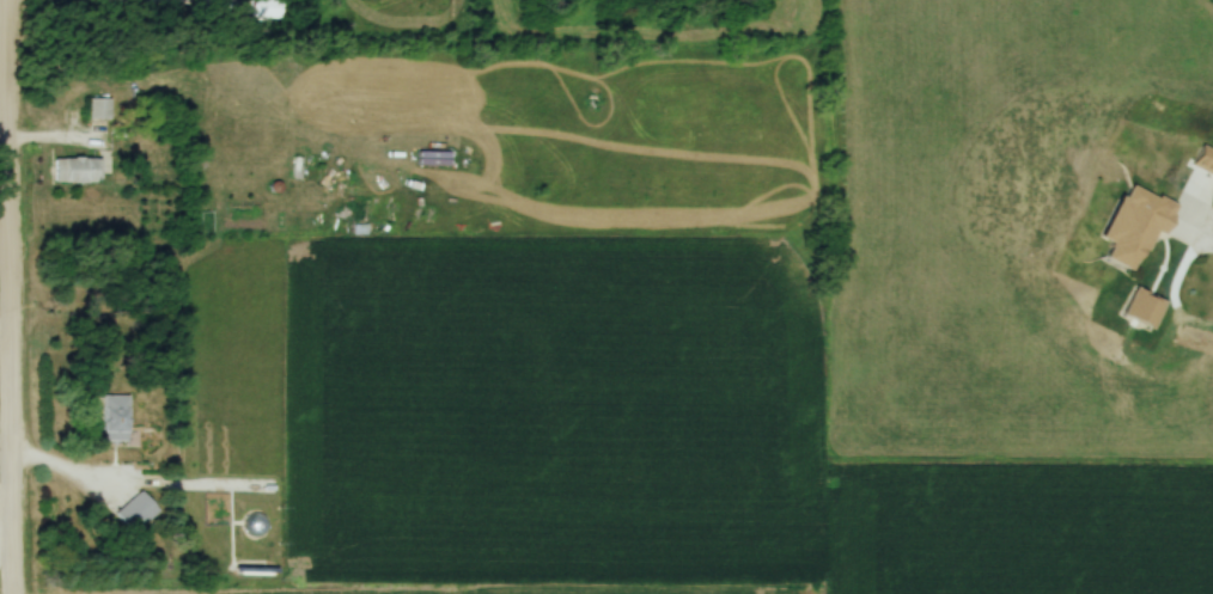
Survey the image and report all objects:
road: (90, 1)
building: (270, 10)
building: (99, 110)
road: (62, 136)
building: (77, 171)
road: (10, 255)
road: (1172, 283)
road: (6, 327)
building: (111, 418)
road: (69, 469)
road: (6, 512)
building: (136, 513)
road: (6, 537)
road: (13, 552)

